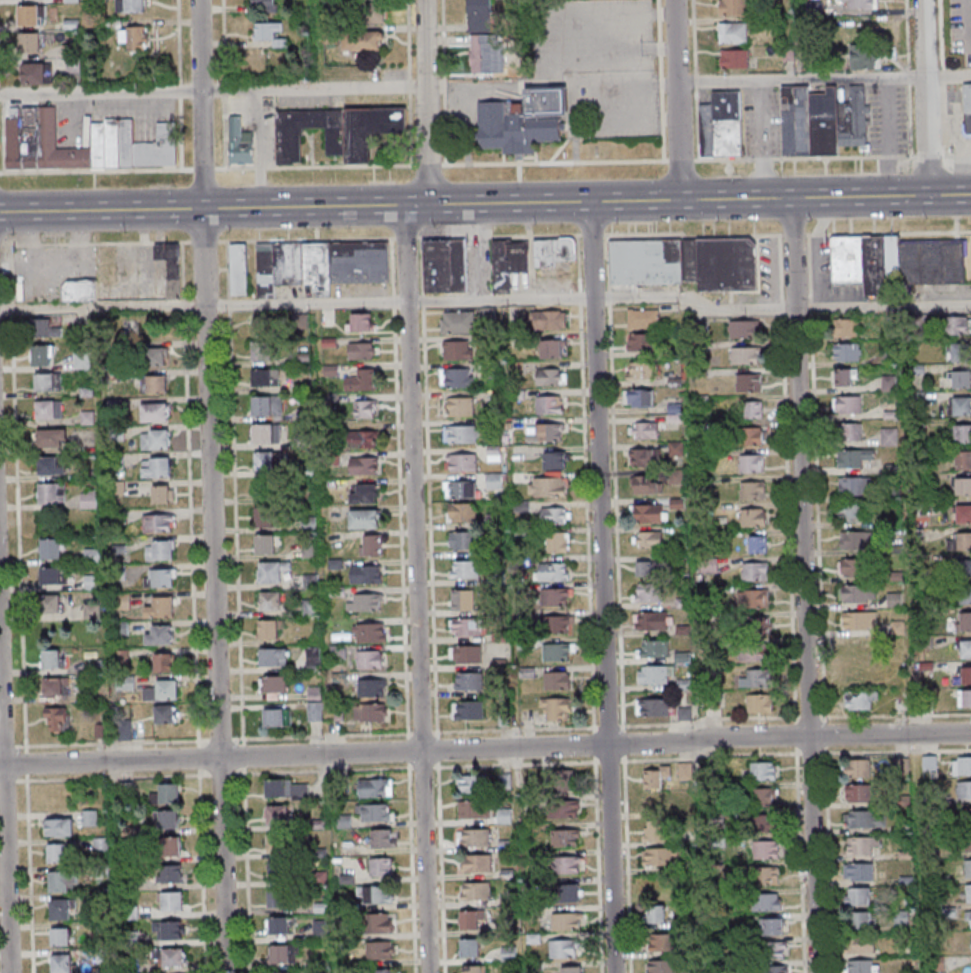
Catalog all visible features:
building: (69, 1)
building: (260, 3)
building: (328, 4)
road: (655, 4)
building: (857, 4)
building: (128, 6)
building: (730, 8)
building: (811, 9)
building: (365, 13)
road: (656, 14)
building: (476, 16)
building: (26, 17)
road: (968, 24)
building: (68, 25)
parking lot: (960, 29)
road: (657, 31)
building: (730, 34)
building: (267, 35)
road: (904, 35)
road: (939, 35)
building: (327, 36)
road: (691, 37)
building: (131, 39)
road: (406, 40)
road: (178, 41)
building: (359, 42)
building: (27, 44)
road: (657, 48)
building: (68, 51)
building: (785, 53)
building: (479, 56)
building: (859, 59)
building: (732, 60)
building: (70, 65)
road: (658, 67)
road: (941, 74)
building: (33, 75)
road: (906, 77)
road: (823, 80)
road: (442, 82)
road: (693, 82)
road: (223, 84)
road: (659, 84)
road: (312, 87)
road: (407, 87)
road: (179, 90)
road: (100, 93)
road: (924, 98)
road: (659, 100)
road: (676, 100)
road: (578, 102)
building: (967, 107)
road: (660, 118)
building: (853, 118)
building: (523, 119)
building: (789, 119)
building: (802, 119)
building: (824, 120)
road: (908, 120)
building: (729, 123)
road: (694, 124)
building: (46, 126)
building: (369, 129)
road: (407, 129)
building: (709, 131)
road: (179, 133)
building: (124, 141)
building: (13, 142)
building: (111, 142)
building: (238, 142)
road: (660, 142)
building: (97, 144)
building: (288, 144)
building: (29, 148)
building: (156, 148)
road: (704, 159)
road: (425, 165)
road: (318, 166)
road: (206, 168)
road: (222, 168)
road: (97, 170)
road: (586, 201)
road: (101, 210)
road: (320, 239)
road: (190, 241)
road: (207, 241)
building: (552, 250)
building: (173, 256)
building: (507, 261)
building: (896, 261)
building: (291, 263)
building: (650, 263)
building: (728, 264)
building: (442, 265)
building: (462, 265)
building: (319, 266)
building: (238, 268)
building: (268, 270)
building: (364, 273)
building: (84, 290)
road: (487, 300)
building: (643, 317)
building: (302, 319)
building: (549, 319)
building: (361, 322)
building: (458, 322)
building: (961, 325)
building: (262, 326)
building: (44, 327)
building: (847, 327)
building: (744, 328)
building: (642, 341)
building: (550, 348)
building: (263, 349)
building: (458, 349)
building: (361, 350)
building: (963, 351)
building: (850, 353)
building: (41, 354)
building: (746, 354)
building: (157, 356)
building: (81, 360)
building: (642, 370)
building: (550, 375)
building: (843, 376)
building: (265, 377)
building: (456, 377)
building: (963, 379)
building: (362, 380)
building: (48, 381)
building: (753, 382)
building: (888, 382)
building: (157, 383)
building: (639, 397)
building: (267, 404)
building: (549, 404)
building: (851, 404)
building: (459, 406)
building: (963, 406)
building: (49, 408)
building: (366, 408)
building: (754, 409)
building: (155, 411)
building: (645, 429)
building: (266, 432)
building: (547, 432)
building: (851, 432)
building: (964, 432)
building: (460, 433)
building: (754, 436)
building: (50, 437)
building: (889, 437)
building: (155, 438)
building: (363, 438)
building: (494, 452)
building: (644, 456)
building: (854, 458)
building: (965, 459)
building: (264, 460)
building: (555, 460)
building: (461, 462)
building: (756, 464)
building: (51, 465)
building: (364, 465)
building: (156, 467)
road: (413, 484)
building: (646, 484)
road: (216, 486)
building: (548, 486)
building: (854, 486)
building: (965, 486)
building: (266, 488)
building: (460, 488)
road: (191, 490)
building: (757, 490)
building: (52, 492)
building: (162, 493)
road: (234, 493)
building: (364, 493)
building: (88, 496)
building: (464, 512)
building: (649, 512)
building: (856, 512)
building: (966, 513)
building: (554, 514)
building: (265, 516)
building: (756, 517)
building: (365, 518)
building: (159, 522)
building: (650, 539)
building: (857, 539)
building: (462, 540)
building: (966, 540)
building: (558, 542)
building: (265, 543)
building: (372, 544)
building: (756, 544)
building: (51, 548)
building: (160, 549)
building: (858, 567)
building: (966, 567)
building: (464, 568)
building: (651, 568)
building: (272, 570)
building: (554, 571)
building: (759, 571)
building: (366, 573)
building: (54, 574)
building: (160, 577)
road: (808, 585)
road: (607, 587)
building: (649, 592)
building: (859, 593)
building: (967, 594)
building: (555, 596)
building: (760, 597)
building: (462, 599)
building: (895, 599)
building: (273, 600)
building: (370, 600)
building: (52, 602)
road: (431, 605)
building: (161, 607)
building: (310, 607)
building: (92, 610)
building: (651, 620)
building: (967, 620)
building: (859, 621)
building: (559, 624)
building: (756, 626)
building: (465, 627)
building: (271, 628)
building: (370, 632)
building: (159, 634)
building: (653, 648)
building: (968, 649)
building: (339, 651)
building: (557, 651)
building: (858, 651)
building: (761, 652)
building: (465, 653)
building: (274, 656)
building: (313, 657)
building: (53, 658)
building: (370, 658)
building: (164, 662)
building: (655, 674)
building: (968, 675)
building: (857, 676)
building: (762, 677)
building: (468, 680)
building: (557, 680)
building: (57, 685)
building: (275, 686)
building: (372, 687)
building: (163, 690)
building: (969, 698)
building: (859, 701)
building: (764, 703)
building: (653, 706)
building: (555, 708)
building: (469, 709)
building: (314, 711)
building: (370, 712)
building: (165, 713)
building: (685, 713)
building: (277, 717)
building: (56, 718)
road: (602, 727)
building: (124, 729)
road: (218, 739)
road: (102, 743)
road: (198, 743)
road: (485, 747)
road: (198, 756)
road: (243, 756)
building: (961, 765)
road: (485, 766)
building: (861, 768)
building: (687, 770)
building: (766, 771)
building: (656, 776)
building: (564, 778)
building: (472, 783)
building: (276, 787)
building: (376, 787)
building: (964, 789)
building: (169, 792)
building: (862, 794)
building: (769, 797)
building: (474, 808)
building: (564, 808)
building: (375, 812)
building: (278, 814)
building: (504, 815)
building: (969, 815)
building: (90, 817)
building: (168, 818)
building: (866, 819)
building: (769, 823)
building: (60, 827)
road: (4, 830)
building: (654, 832)
building: (478, 837)
building: (565, 837)
building: (383, 838)
building: (277, 841)
building: (970, 843)
building: (863, 845)
building: (171, 846)
building: (769, 849)
building: (58, 852)
building: (661, 856)
road: (28, 859)
building: (479, 863)
building: (570, 864)
building: (381, 865)
building: (970, 868)
road: (202, 870)
road: (246, 870)
building: (279, 870)
building: (864, 872)
building: (172, 873)
building: (770, 876)
building: (62, 880)
building: (478, 890)
building: (571, 892)
building: (968, 892)
building: (376, 893)
building: (858, 896)
building: (278, 898)
building: (172, 901)
building: (768, 902)
building: (61, 908)
building: (656, 913)
building: (472, 918)
building: (968, 918)
building: (565, 920)
building: (860, 920)
building: (376, 922)
building: (279, 924)
building: (776, 926)
building: (172, 929)
building: (61, 936)
building: (663, 942)
building: (863, 944)
building: (472, 947)
building: (563, 948)
building: (379, 949)
building: (775, 951)
building: (280, 953)
building: (174, 956)
building: (62, 962)
building: (663, 966)
building: (863, 966)
building: (473, 969)
building: (571, 969)
building: (776, 969)
building: (381, 971)
building: (281, 972)

